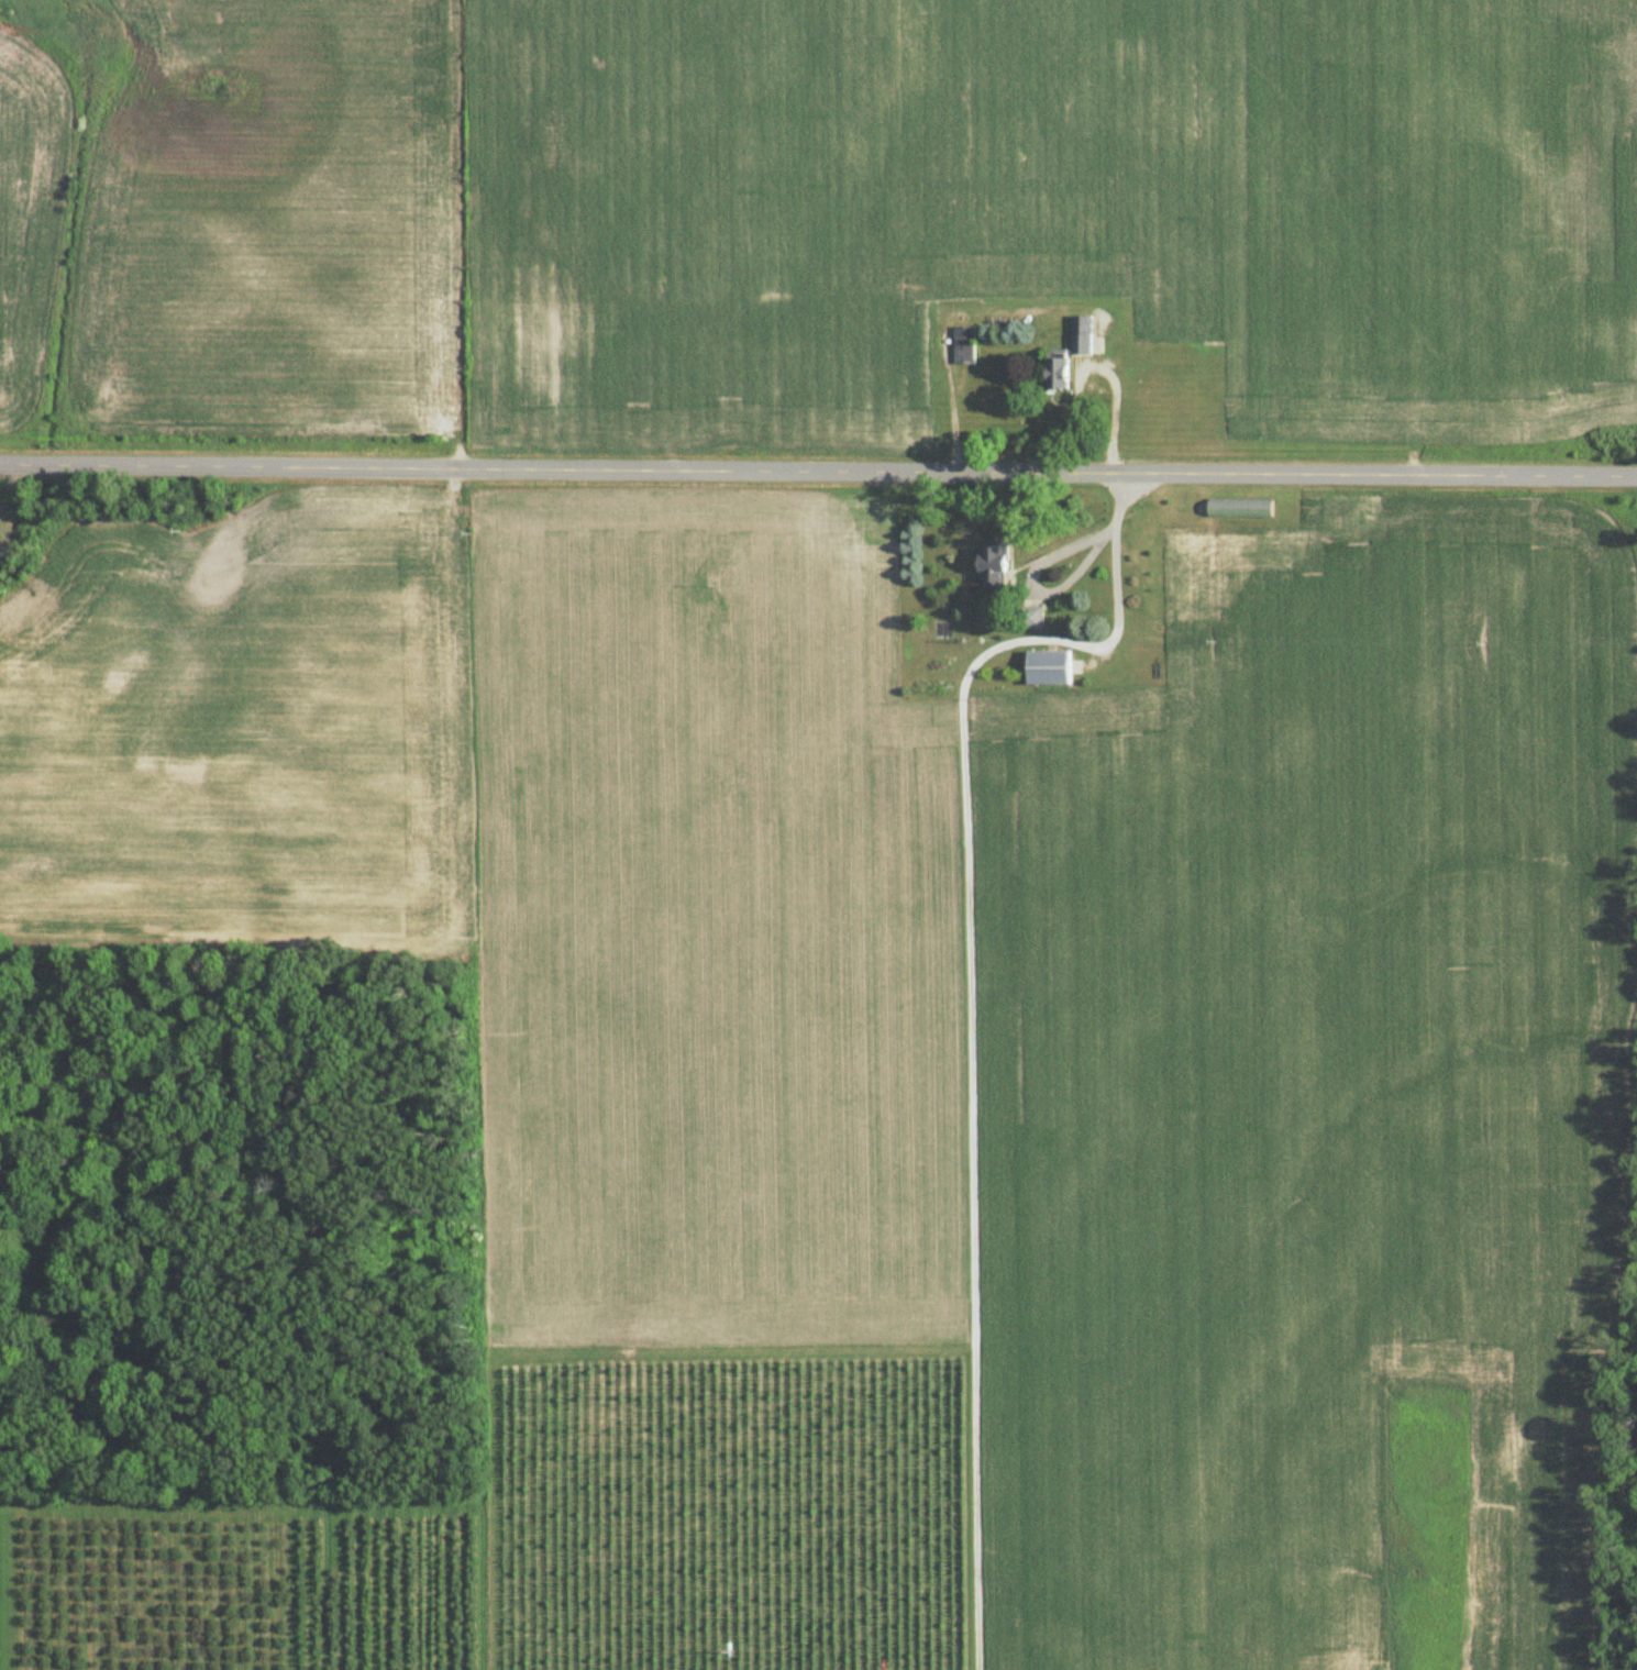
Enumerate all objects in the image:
building: (1082, 335)
building: (965, 346)
building: (1060, 375)
road: (818, 472)
building: (997, 572)
road: (1036, 582)
road: (1116, 597)
building: (1033, 619)
building: (1051, 670)

